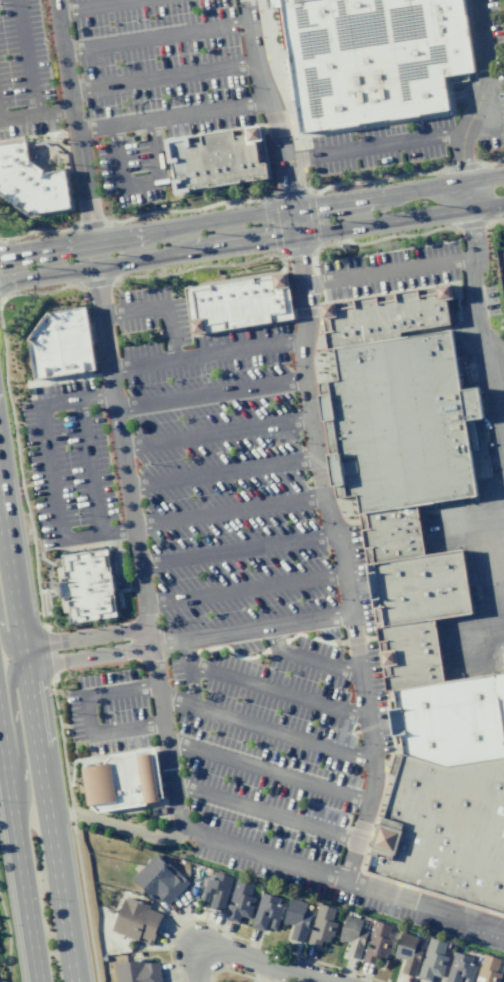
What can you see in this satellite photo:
road: (91, 5)
road: (156, 40)
road: (28, 57)
building: (370, 58)
road: (163, 77)
parking lot: (121, 78)
road: (485, 93)
road: (35, 115)
road: (174, 119)
road: (73, 120)
road: (377, 148)
building: (222, 161)
road: (465, 182)
building: (33, 184)
road: (143, 190)
road: (361, 199)
traffic signals: (294, 210)
road: (233, 219)
road: (400, 220)
traffic signals: (298, 237)
road: (85, 241)
road: (231, 246)
road: (82, 270)
parking lot: (387, 273)
road: (392, 273)
parking lot: (491, 301)
building: (240, 304)
road: (161, 308)
building: (391, 317)
road: (481, 330)
building: (63, 345)
road: (209, 353)
road: (213, 394)
building: (402, 423)
road: (218, 434)
road: (314, 440)
building: (477, 446)
road: (90, 467)
road: (51, 472)
road: (223, 472)
road: (231, 513)
road: (480, 527)
road: (241, 552)
building: (90, 586)
parking lot: (224, 590)
road: (247, 590)
road: (252, 627)
road: (486, 636)
road: (307, 659)
road: (53, 660)
road: (191, 671)
road: (279, 692)
road: (88, 714)
road: (163, 715)
building: (434, 725)
road: (266, 728)
road: (37, 746)
road: (268, 773)
building: (125, 782)
road: (265, 812)
road: (115, 826)
road: (74, 835)
road: (19, 851)
building: (159, 879)
building: (208, 891)
building: (240, 901)
building: (273, 911)
building: (296, 919)
building: (136, 921)
building: (322, 925)
building: (352, 936)
road: (8, 942)
road: (257, 943)
building: (377, 943)
building: (448, 945)
building: (408, 952)
building: (432, 960)
road: (264, 963)
road: (196, 967)
building: (459, 968)
building: (488, 969)
building: (137, 971)
road: (177, 972)
road: (234, 972)
building: (477, 981)

